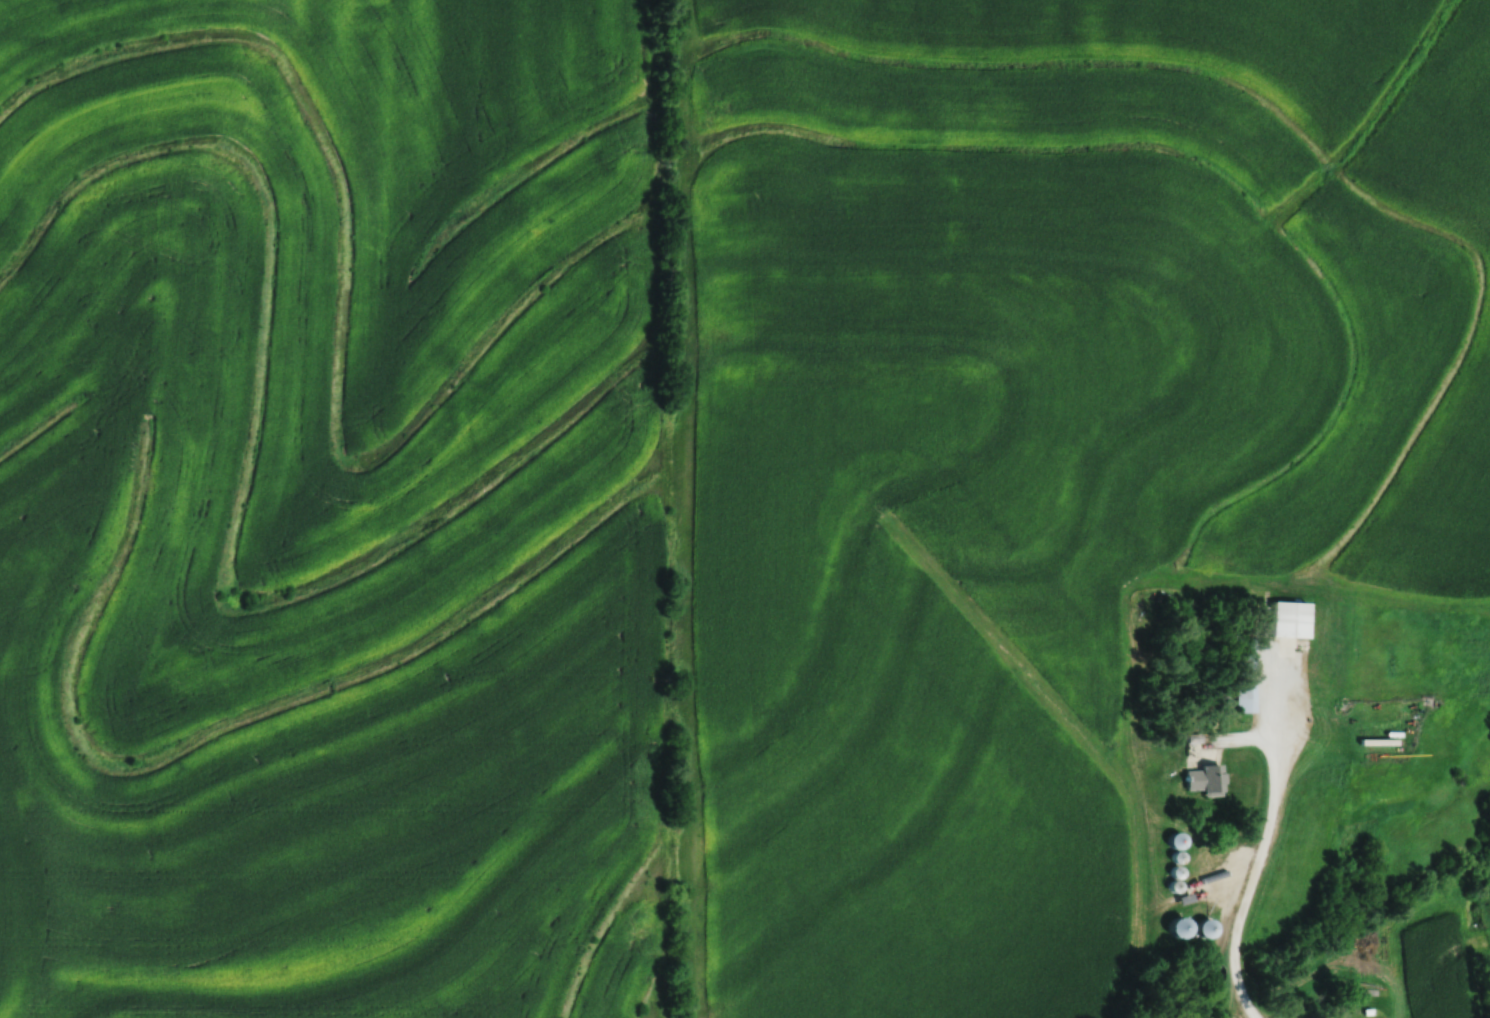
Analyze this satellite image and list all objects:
building: (1287, 620)
building: (1243, 676)
building: (1201, 780)
building: (1173, 841)
road: (1252, 864)
building: (1175, 926)
building: (1203, 927)

